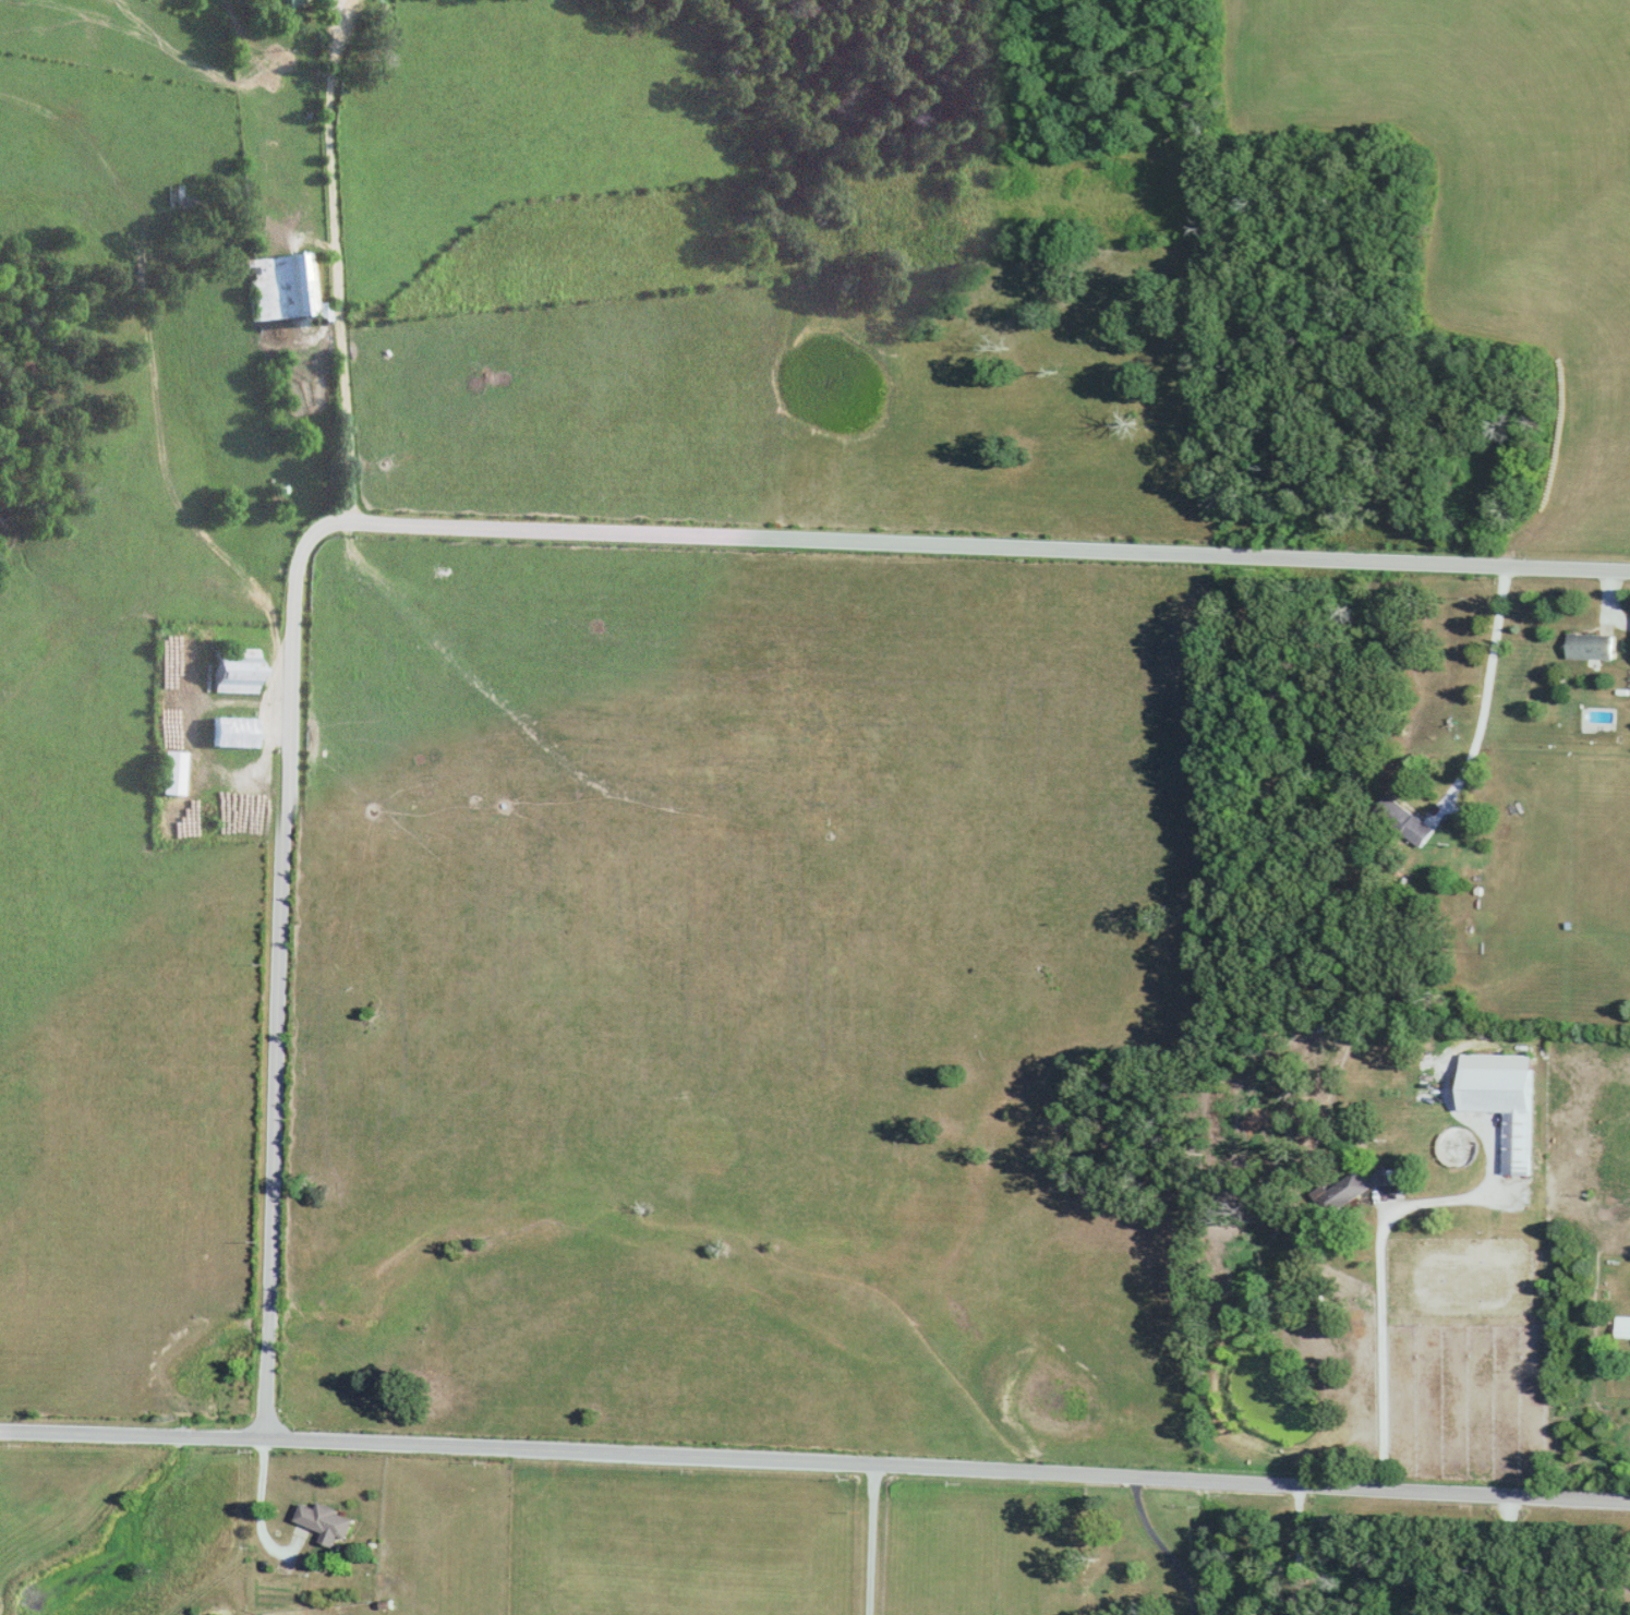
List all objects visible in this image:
building: (288, 4)
building: (186, 196)
road: (367, 284)
building: (280, 286)
road: (1006, 546)
building: (1593, 646)
building: (234, 670)
road: (1486, 684)
building: (231, 731)
building: (169, 772)
building: (1404, 821)
road: (313, 971)
building: (1429, 1092)
building: (1504, 1100)
building: (1384, 1176)
building: (1342, 1193)
road: (1378, 1275)
building: (1622, 1326)
road: (814, 1459)
building: (326, 1519)
road: (869, 1538)
road: (1160, 1544)
road: (1297, 1548)

